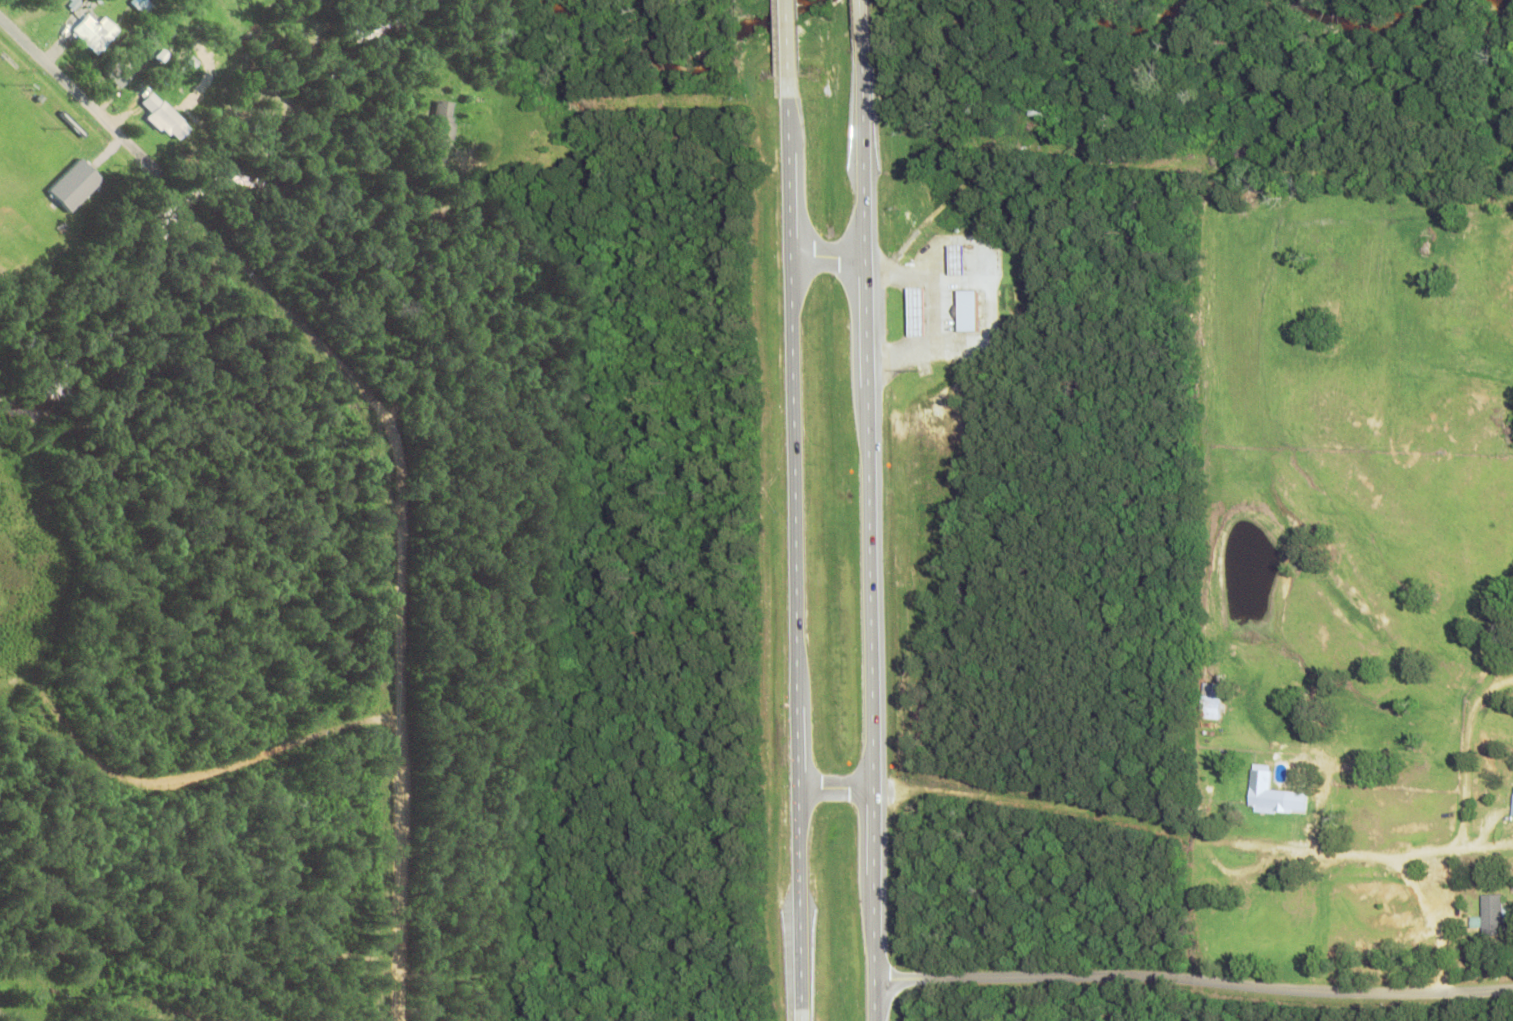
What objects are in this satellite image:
building: (140, 5)
river: (566, 7)
river: (1147, 28)
river: (1373, 28)
road: (862, 31)
building: (91, 32)
road: (789, 49)
river: (707, 56)
building: (115, 70)
road: (77, 90)
building: (162, 119)
building: (437, 130)
building: (681, 138)
road: (1069, 164)
building: (74, 184)
river: (203, 192)
road: (271, 232)
road: (829, 259)
building: (964, 260)
gas station: (964, 260)
building: (954, 282)
building: (969, 311)
building: (923, 312)
gas station: (923, 312)
road: (991, 312)
road: (869, 541)
road: (797, 559)
road: (402, 586)
building: (1209, 700)
road: (197, 770)
building: (1263, 792)
building: (1511, 801)
road: (1129, 821)
building: (1488, 912)
road: (1194, 978)

